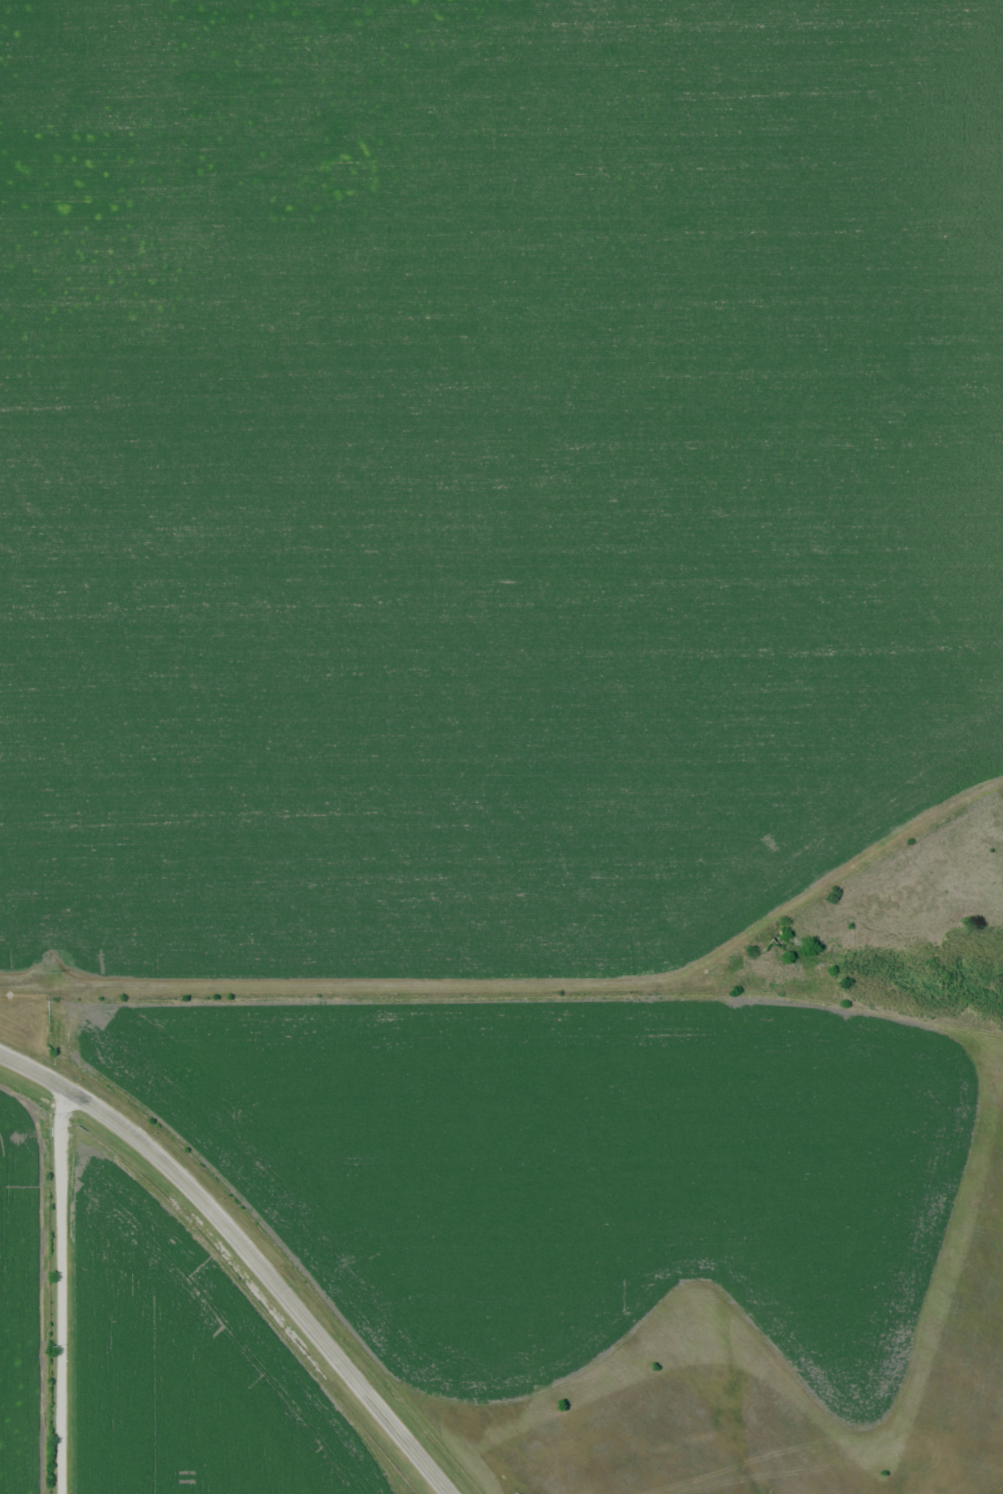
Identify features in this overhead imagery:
road: (245, 1249)
road: (63, 1290)

